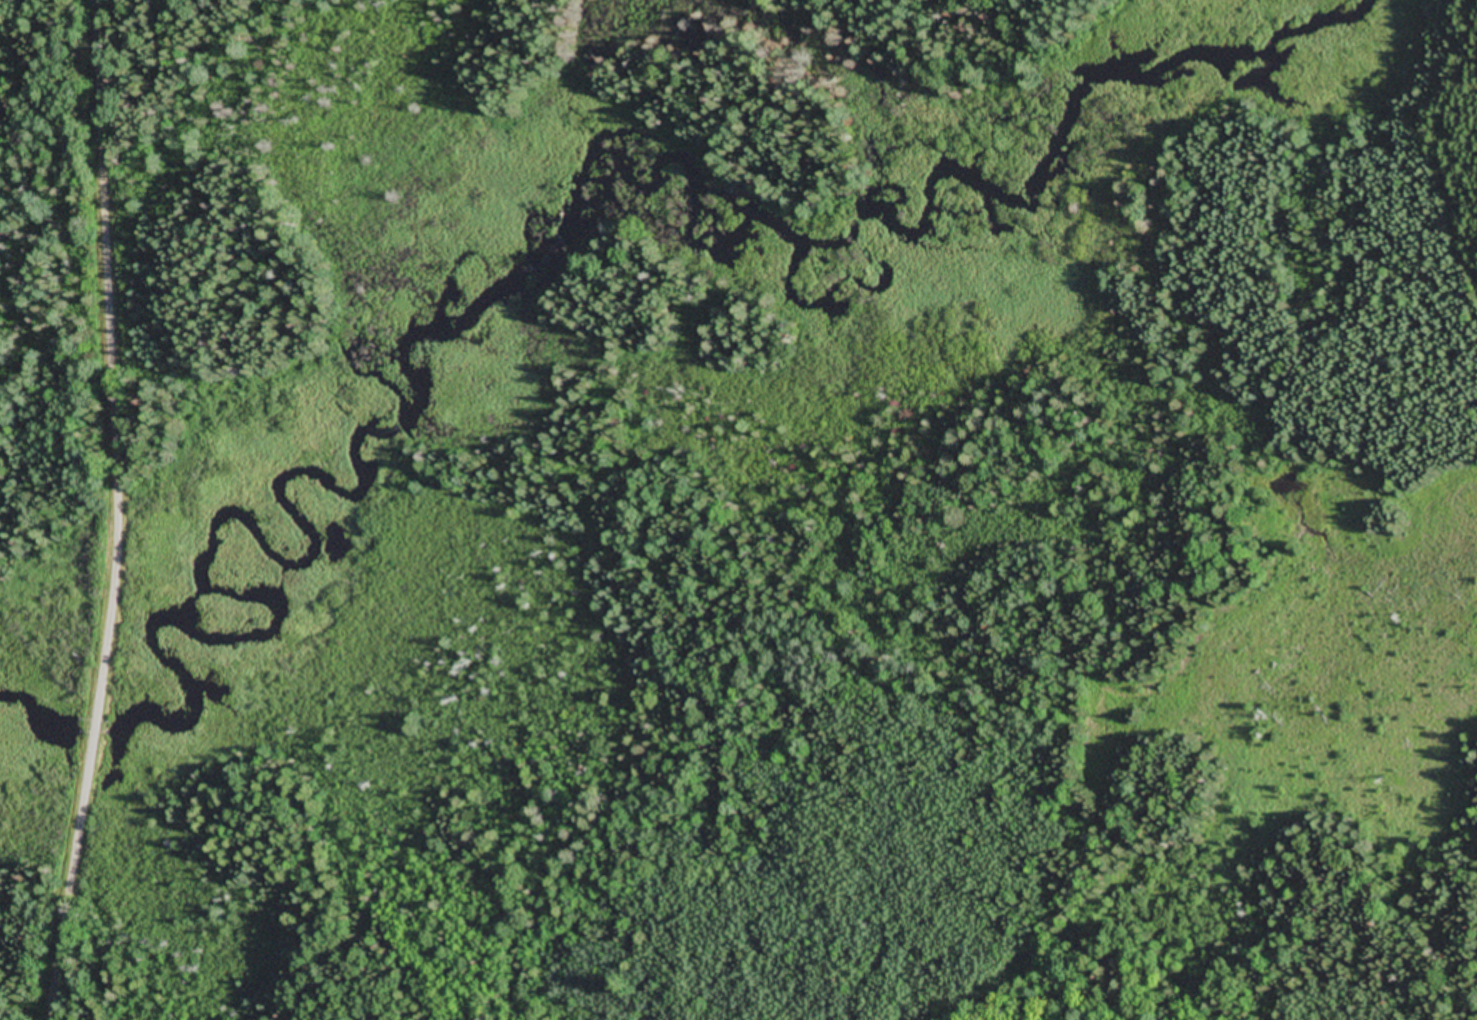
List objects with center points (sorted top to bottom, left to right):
road: (117, 512)

